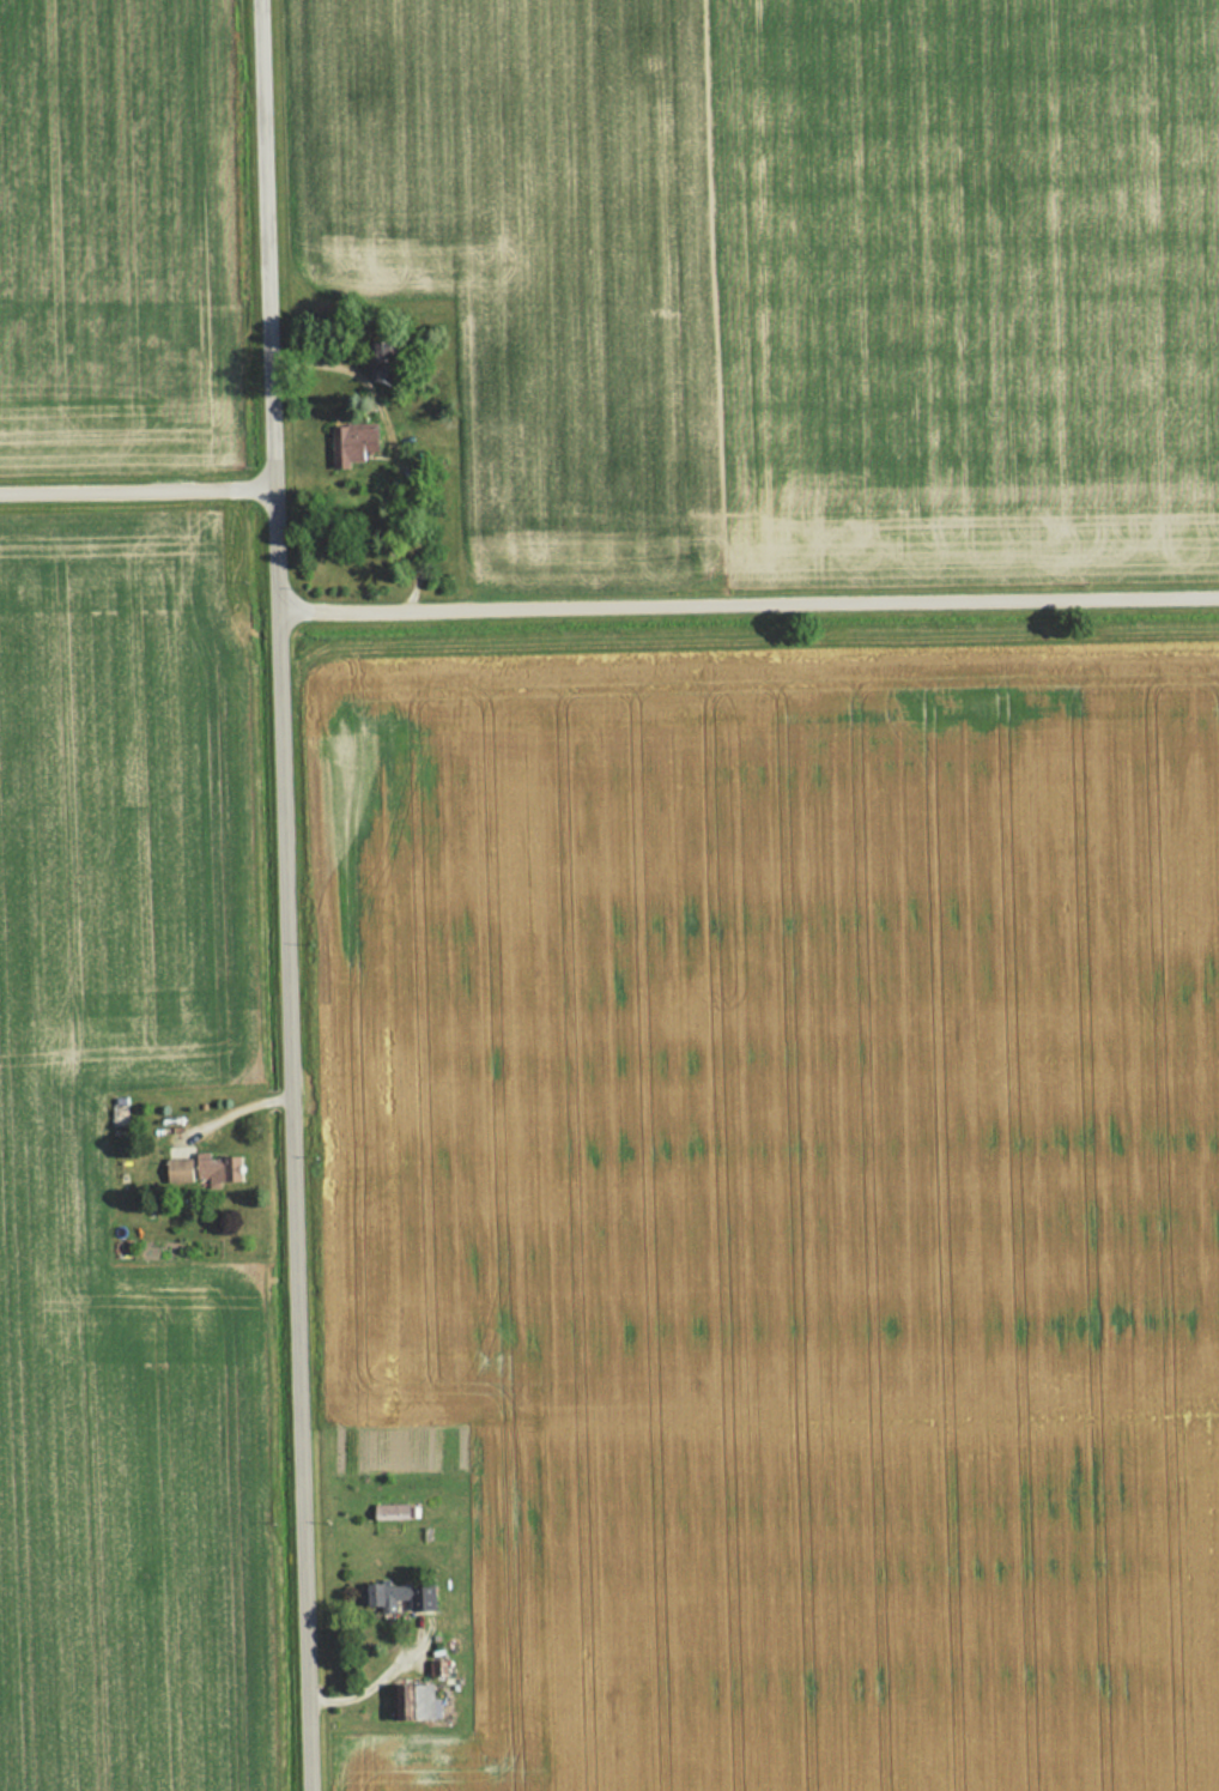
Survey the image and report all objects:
crop: (115, 225)
crop: (793, 268)
building: (381, 361)
building: (351, 443)
road: (137, 490)
road: (750, 607)
road: (285, 895)
building: (216, 1168)
building: (181, 1170)
crop: (788, 1206)
building: (393, 1597)

